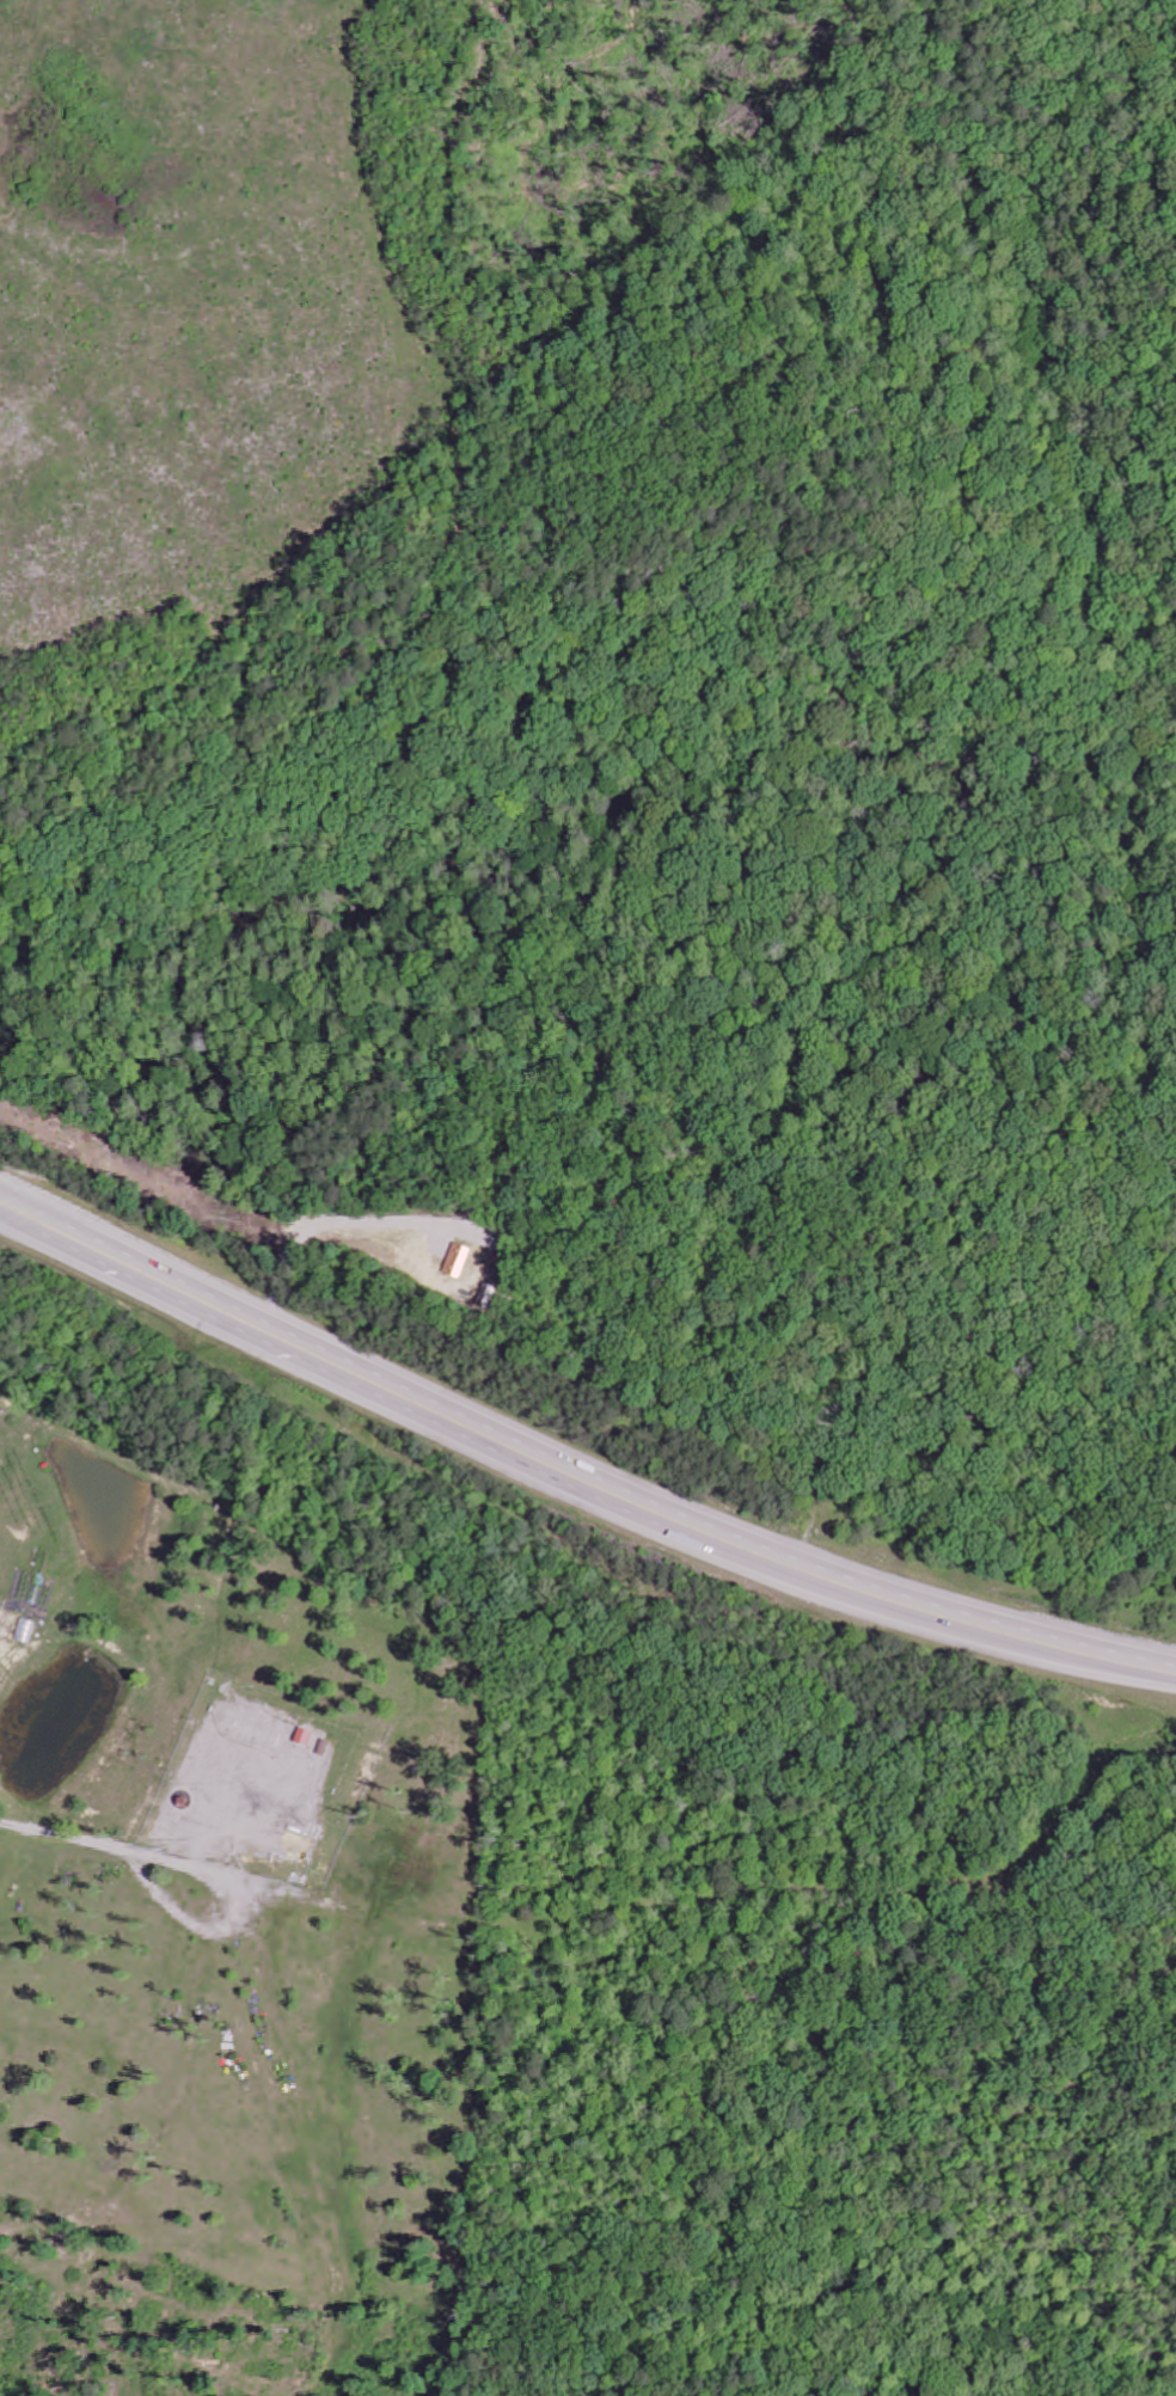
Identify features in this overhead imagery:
road: (572, 1478)
road: (109, 1846)

